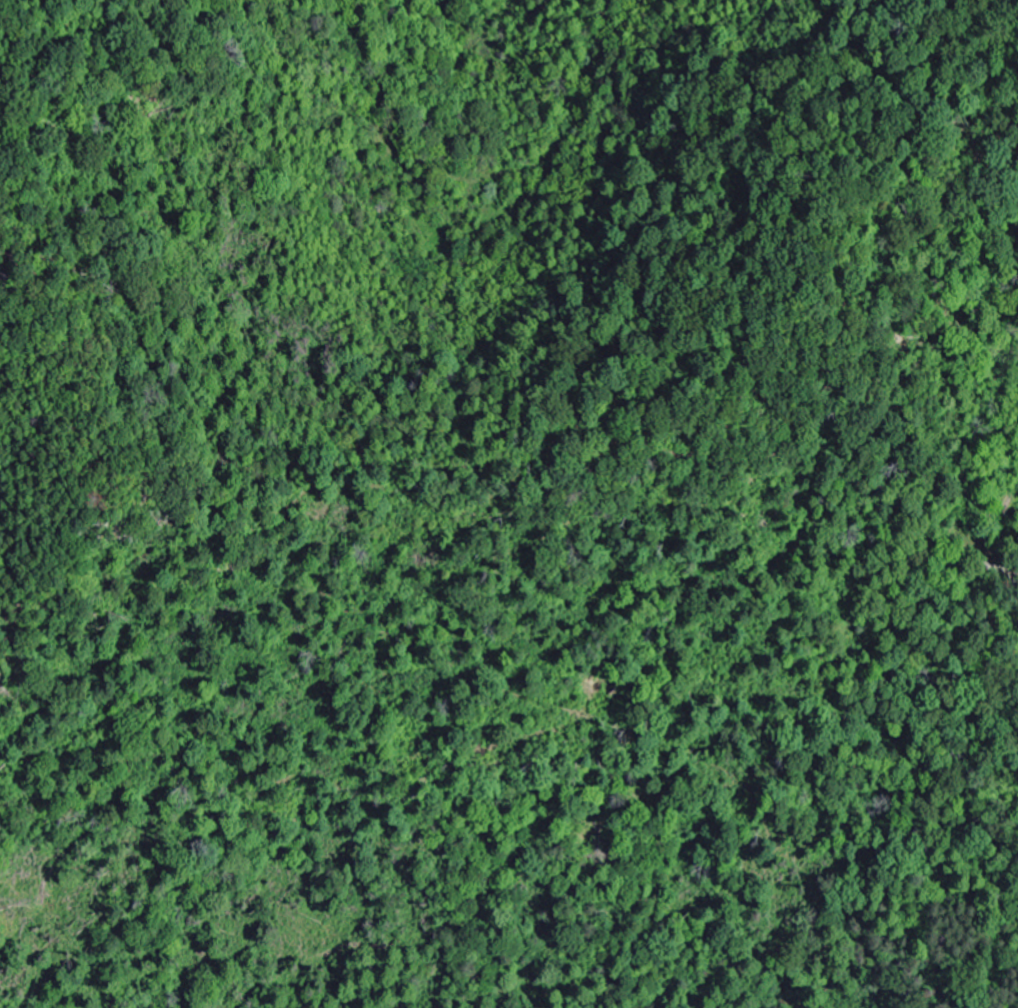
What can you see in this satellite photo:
road: (1004, 529)

